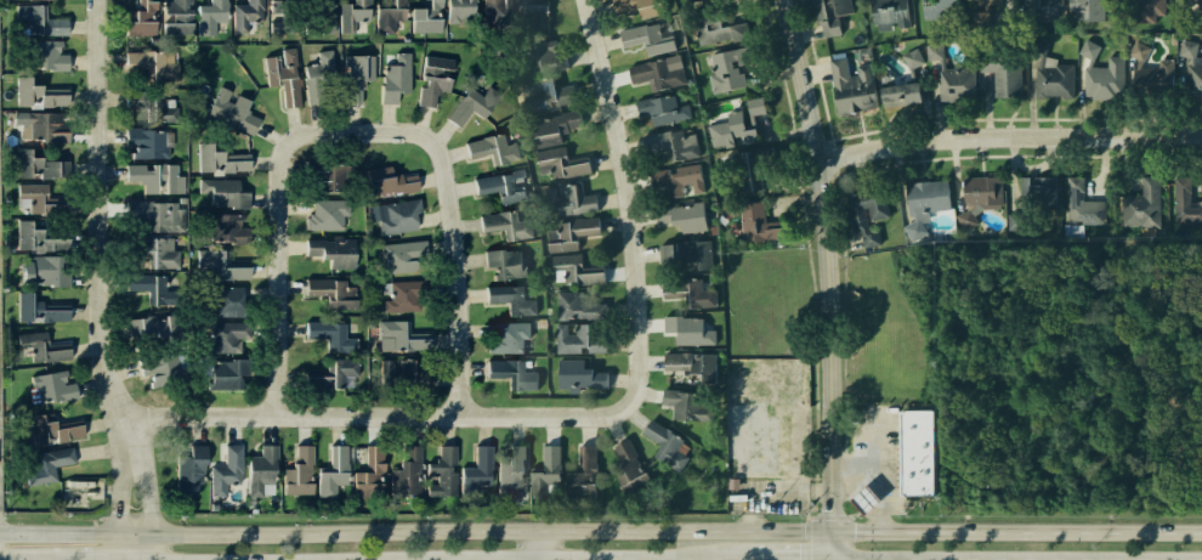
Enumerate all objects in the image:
building: (1191, 2)
building: (1075, 6)
building: (643, 7)
building: (1041, 7)
building: (940, 9)
building: (1095, 10)
building: (1145, 10)
building: (458, 11)
building: (498, 11)
building: (981, 12)
building: (244, 13)
building: (278, 13)
building: (352, 13)
building: (534, 13)
building: (889, 13)
building: (390, 15)
building: (141, 16)
building: (177, 16)
building: (324, 16)
building: (210, 17)
building: (426, 17)
building: (827, 21)
building: (38, 22)
building: (715, 23)
building: (651, 36)
building: (44, 56)
building: (545, 56)
building: (154, 64)
building: (733, 64)
building: (1191, 66)
building: (1002, 70)
building: (1149, 70)
building: (319, 72)
building: (658, 72)
building: (283, 73)
building: (911, 73)
building: (1101, 73)
building: (1050, 74)
building: (952, 77)
building: (357, 78)
building: (395, 78)
building: (433, 79)
building: (851, 85)
building: (39, 92)
building: (549, 92)
building: (151, 103)
building: (470, 106)
building: (665, 107)
building: (231, 109)
building: (736, 124)
building: (41, 126)
building: (556, 126)
road: (362, 130)
road: (1008, 137)
building: (147, 142)
building: (673, 143)
building: (492, 145)
building: (217, 159)
building: (568, 164)
building: (41, 165)
building: (747, 169)
building: (323, 174)
building: (152, 176)
building: (679, 177)
building: (386, 181)
building: (503, 186)
building: (1036, 191)
building: (225, 193)
building: (976, 197)
building: (33, 198)
building: (569, 200)
building: (923, 203)
building: (1082, 204)
building: (1184, 204)
building: (1141, 205)
road: (104, 208)
building: (157, 214)
building: (866, 214)
building: (324, 215)
building: (396, 215)
building: (685, 216)
building: (1013, 221)
building: (756, 224)
building: (506, 225)
building: (226, 228)
building: (573, 231)
building: (34, 237)
road: (639, 242)
building: (152, 251)
building: (333, 251)
building: (691, 254)
building: (401, 255)
building: (506, 264)
building: (221, 265)
building: (39, 270)
building: (577, 270)
road: (828, 278)
building: (331, 290)
building: (154, 292)
building: (690, 293)
building: (397, 296)
road: (464, 298)
building: (227, 299)
building: (511, 300)
road: (287, 302)
building: (577, 305)
building: (38, 306)
building: (159, 328)
building: (690, 330)
building: (333, 333)
building: (399, 335)
building: (512, 336)
building: (226, 339)
building: (579, 339)
building: (42, 345)
building: (697, 367)
building: (170, 369)
building: (514, 373)
building: (331, 375)
building: (402, 375)
building: (226, 377)
building: (580, 378)
building: (51, 386)
building: (688, 403)
road: (380, 413)
building: (47, 428)
road: (869, 442)
building: (669, 446)
building: (913, 452)
building: (46, 464)
building: (225, 468)
building: (189, 469)
building: (261, 470)
building: (407, 470)
building: (477, 470)
building: (297, 471)
building: (331, 471)
building: (369, 471)
building: (442, 471)
building: (548, 471)
building: (628, 471)
road: (144, 473)
road: (120, 474)
building: (585, 474)
building: (512, 476)
road: (874, 479)
building: (85, 488)
road: (772, 496)
building: (862, 500)
traffic signals: (832, 509)
road: (805, 516)
traffic signals: (855, 531)
road: (1016, 531)
road: (415, 533)
road: (120, 548)
road: (153, 548)
traffic signals: (799, 559)
road: (815, 559)

